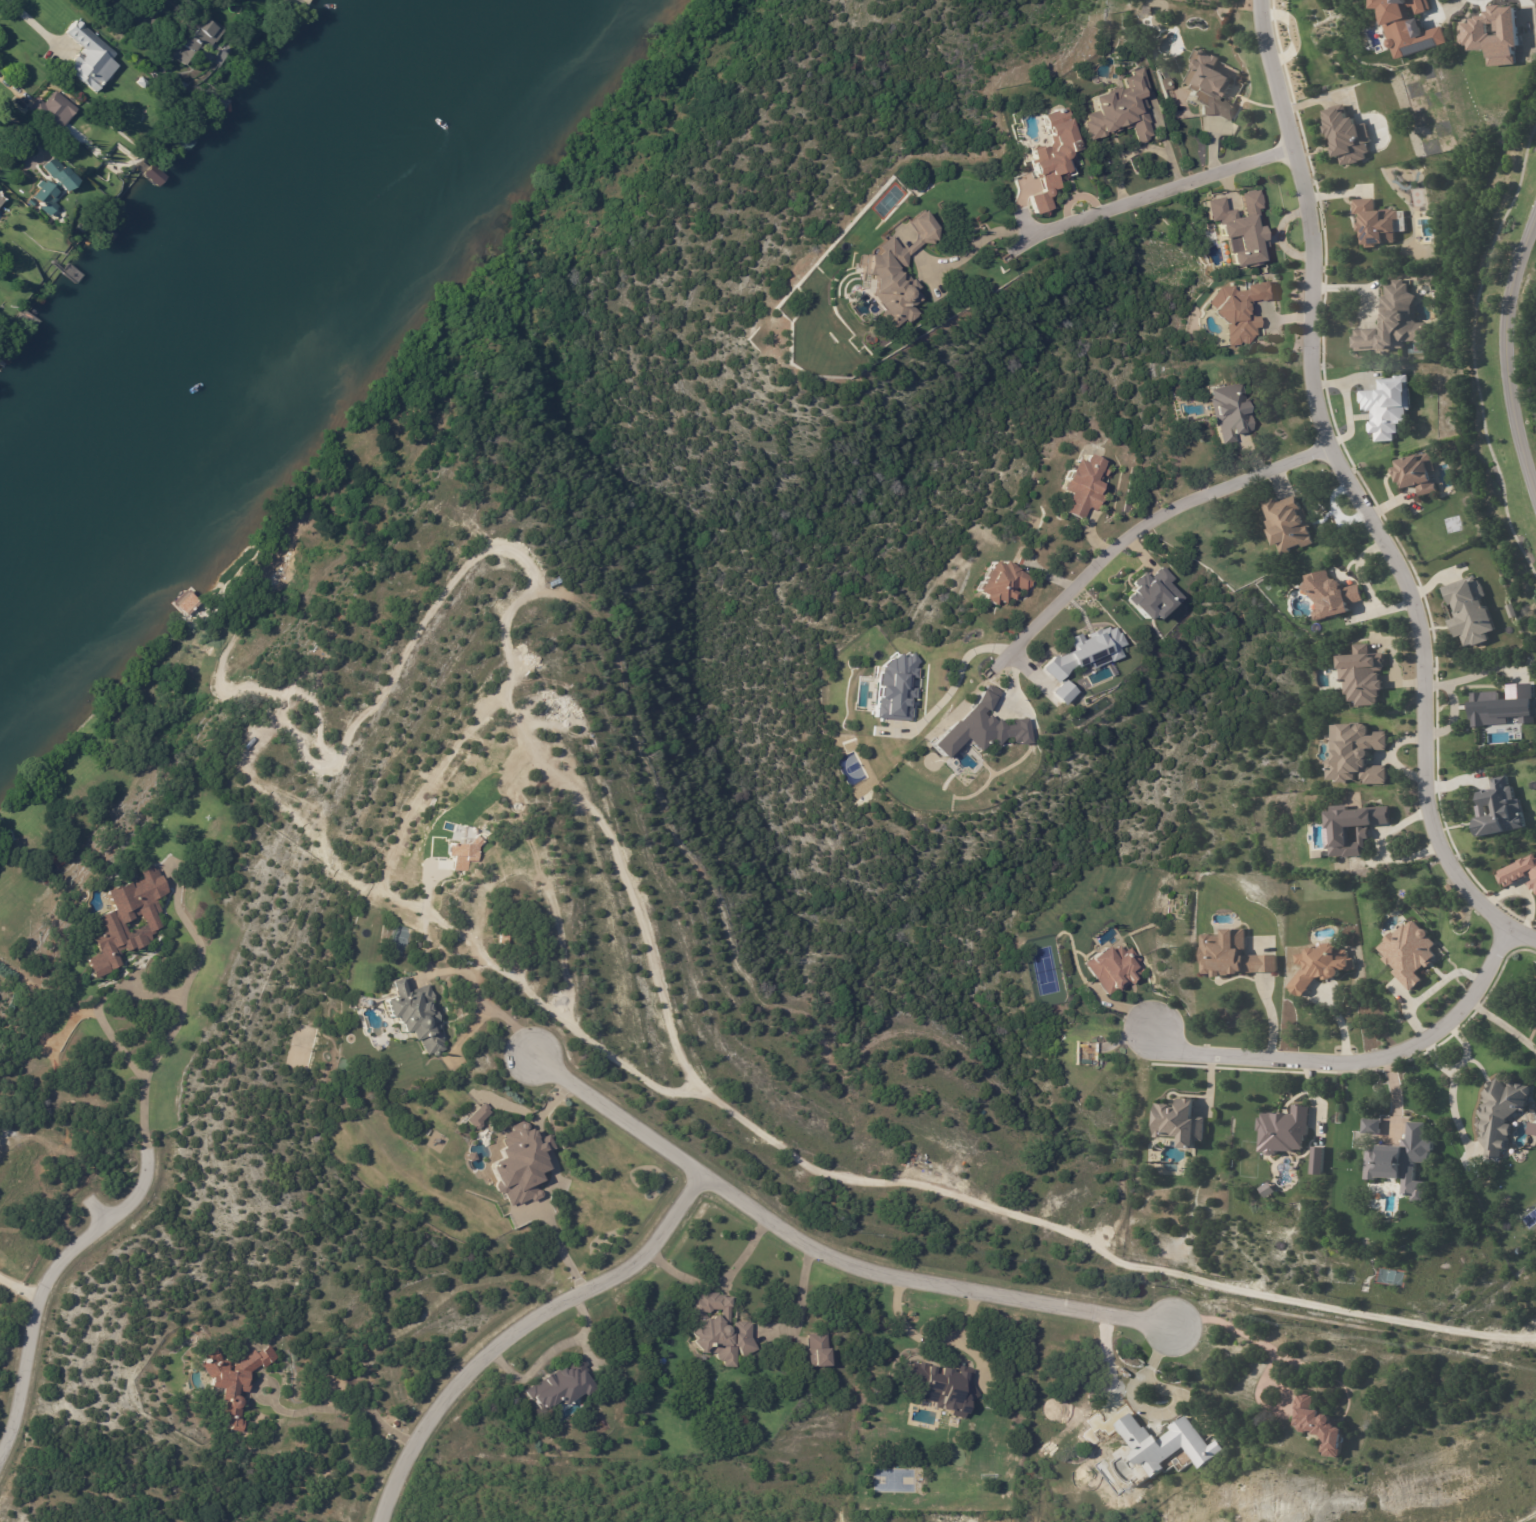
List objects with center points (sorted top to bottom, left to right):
building: (183, 1)
building: (188, 1)
road: (33, 23)
building: (1408, 27)
building: (1493, 34)
building: (198, 39)
building: (89, 56)
building: (161, 73)
building: (140, 81)
building: (1210, 87)
building: (51, 108)
building: (1120, 110)
road: (20, 126)
building: (1346, 136)
building: (184, 137)
building: (1054, 159)
building: (152, 174)
building: (51, 184)
road: (1158, 194)
building: (1, 200)
building: (32, 203)
building: (1374, 223)
building: (1239, 229)
road: (971, 251)
building: (892, 274)
river: (246, 299)
building: (1237, 310)
building: (1392, 323)
road: (1513, 339)
building: (1386, 406)
building: (1227, 413)
building: (1415, 474)
building: (1080, 485)
road: (1355, 493)
building: (1286, 525)
road: (1138, 537)
building: (1003, 584)
building: (1150, 595)
building: (1329, 596)
building: (1469, 611)
building: (1085, 652)
road: (960, 670)
building: (1360, 676)
building: (894, 688)
building: (1061, 692)
building: (1502, 705)
building: (978, 727)
building: (1355, 753)
building: (1498, 808)
building: (1352, 828)
building: (1519, 871)
building: (131, 920)
building: (1409, 952)
building: (1232, 955)
building: (1319, 966)
building: (1111, 968)
road: (101, 999)
road: (491, 1011)
building: (414, 1013)
road: (1463, 1046)
building: (1082, 1049)
road: (1356, 1060)
building: (1082, 1062)
road: (1451, 1080)
building: (1497, 1112)
building: (478, 1116)
building: (1180, 1122)
building: (1530, 1126)
building: (1371, 1127)
building: (1284, 1130)
building: (1317, 1159)
building: (1402, 1161)
building: (520, 1164)
road: (823, 1243)
road: (720, 1283)
road: (21, 1290)
road: (47, 1295)
road: (521, 1325)
building: (715, 1332)
road: (1256, 1337)
building: (815, 1350)
building: (237, 1382)
building: (940, 1385)
building: (566, 1387)
road: (1146, 1405)
road: (342, 1408)
building: (1316, 1426)
building: (1164, 1445)
park: (892, 1479)

